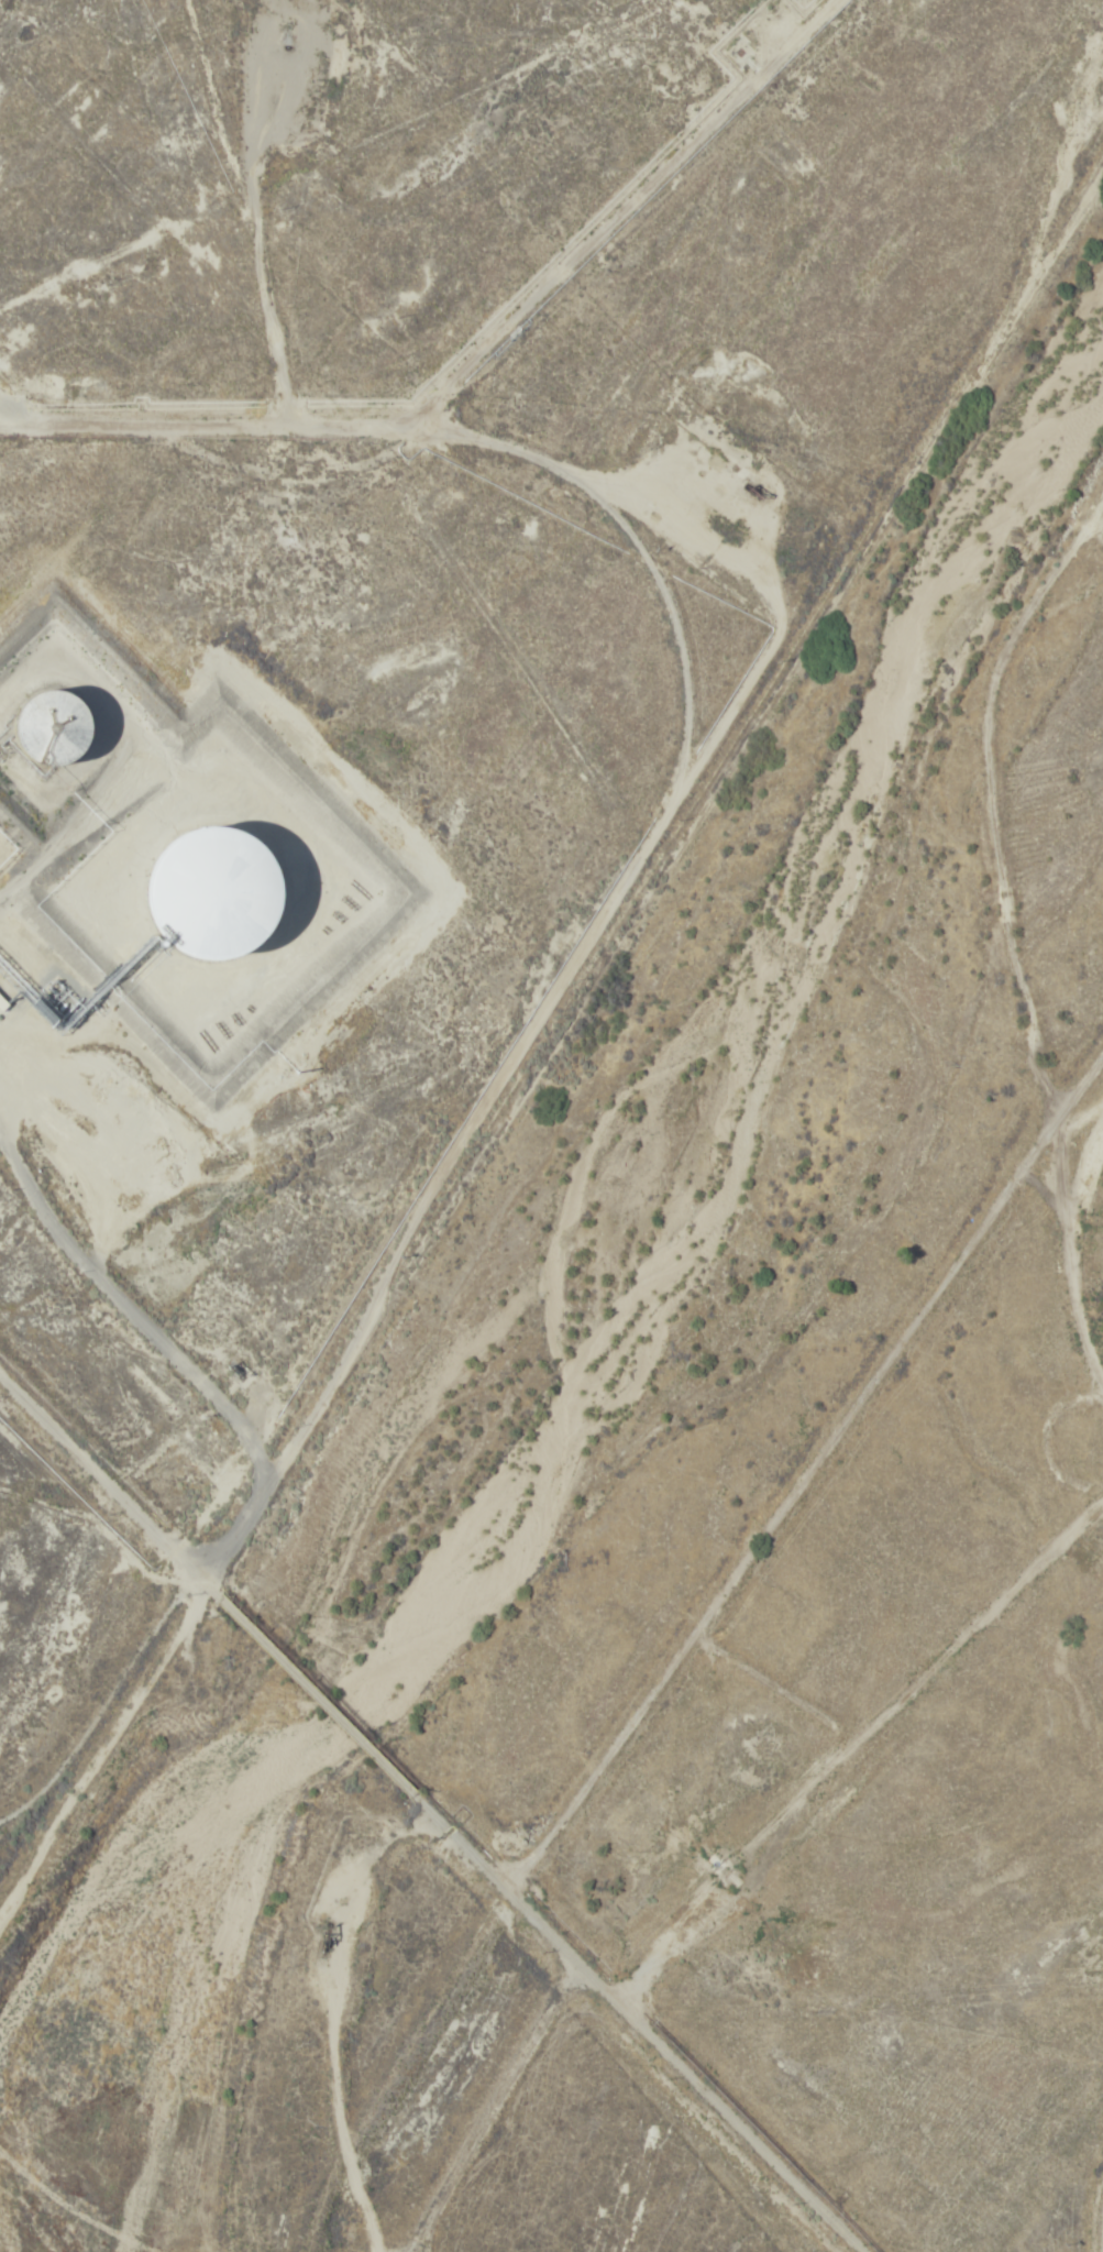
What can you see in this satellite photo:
road: (627, 207)
road: (651, 529)
building: (62, 725)
building: (257, 892)
road: (592, 955)
road: (57, 991)
building: (3, 1003)
river: (540, 1263)
road: (119, 1282)
road: (511, 1314)
road: (65, 1436)
road: (803, 1463)
road: (860, 1734)
road: (100, 1743)
road: (499, 1881)
road: (479, 2105)
road: (1095, 2215)

